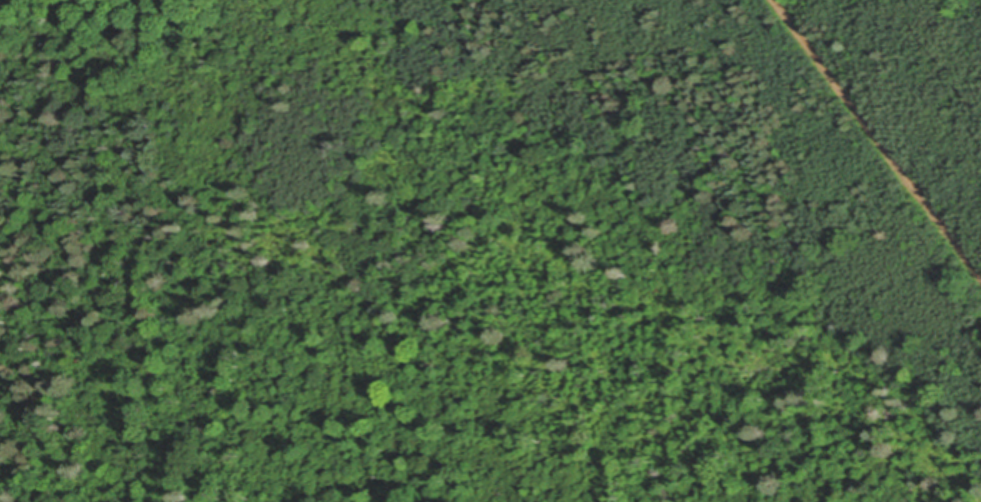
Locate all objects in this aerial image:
road: (877, 138)

